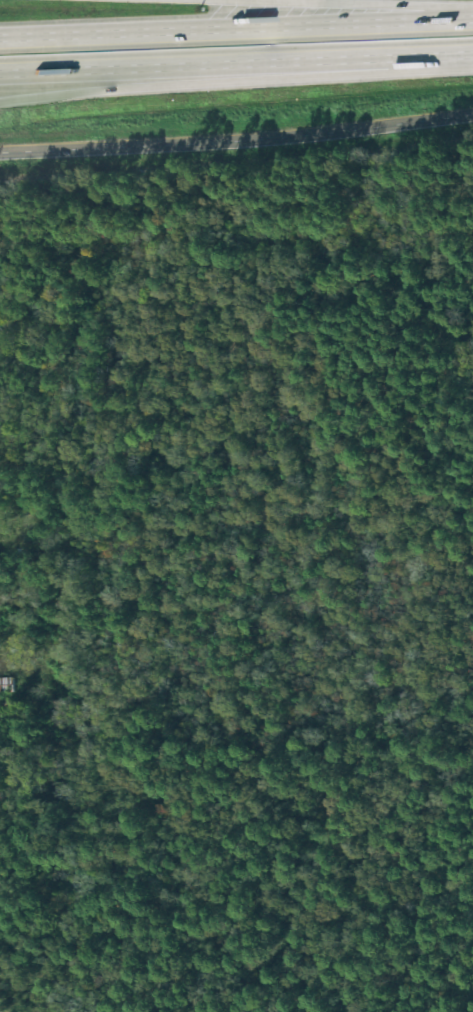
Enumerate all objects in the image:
road: (348, 3)
road: (236, 30)
road: (236, 58)
road: (236, 81)
road: (237, 140)

